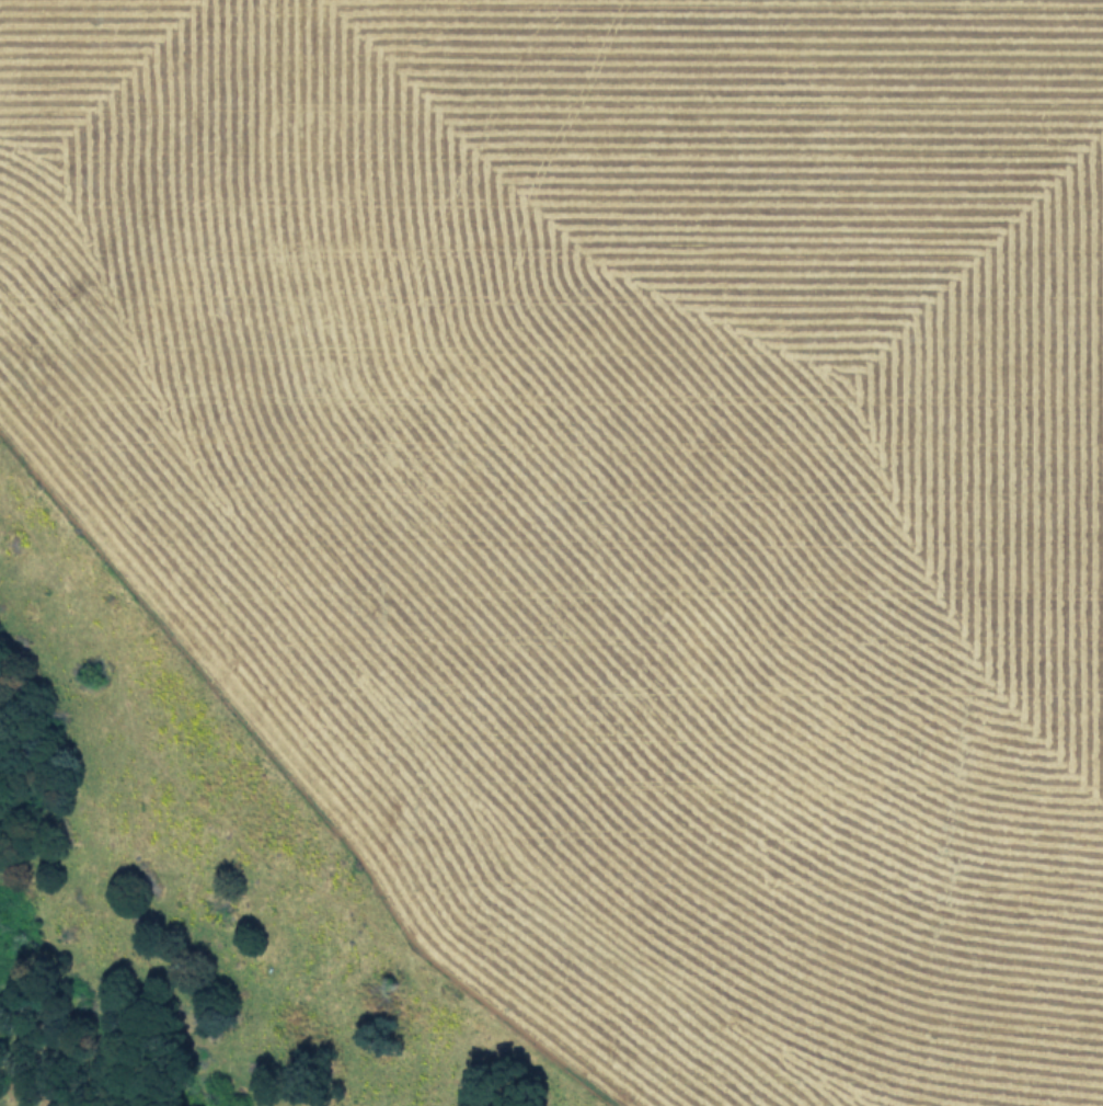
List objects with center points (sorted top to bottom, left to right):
crop: (620, 483)

